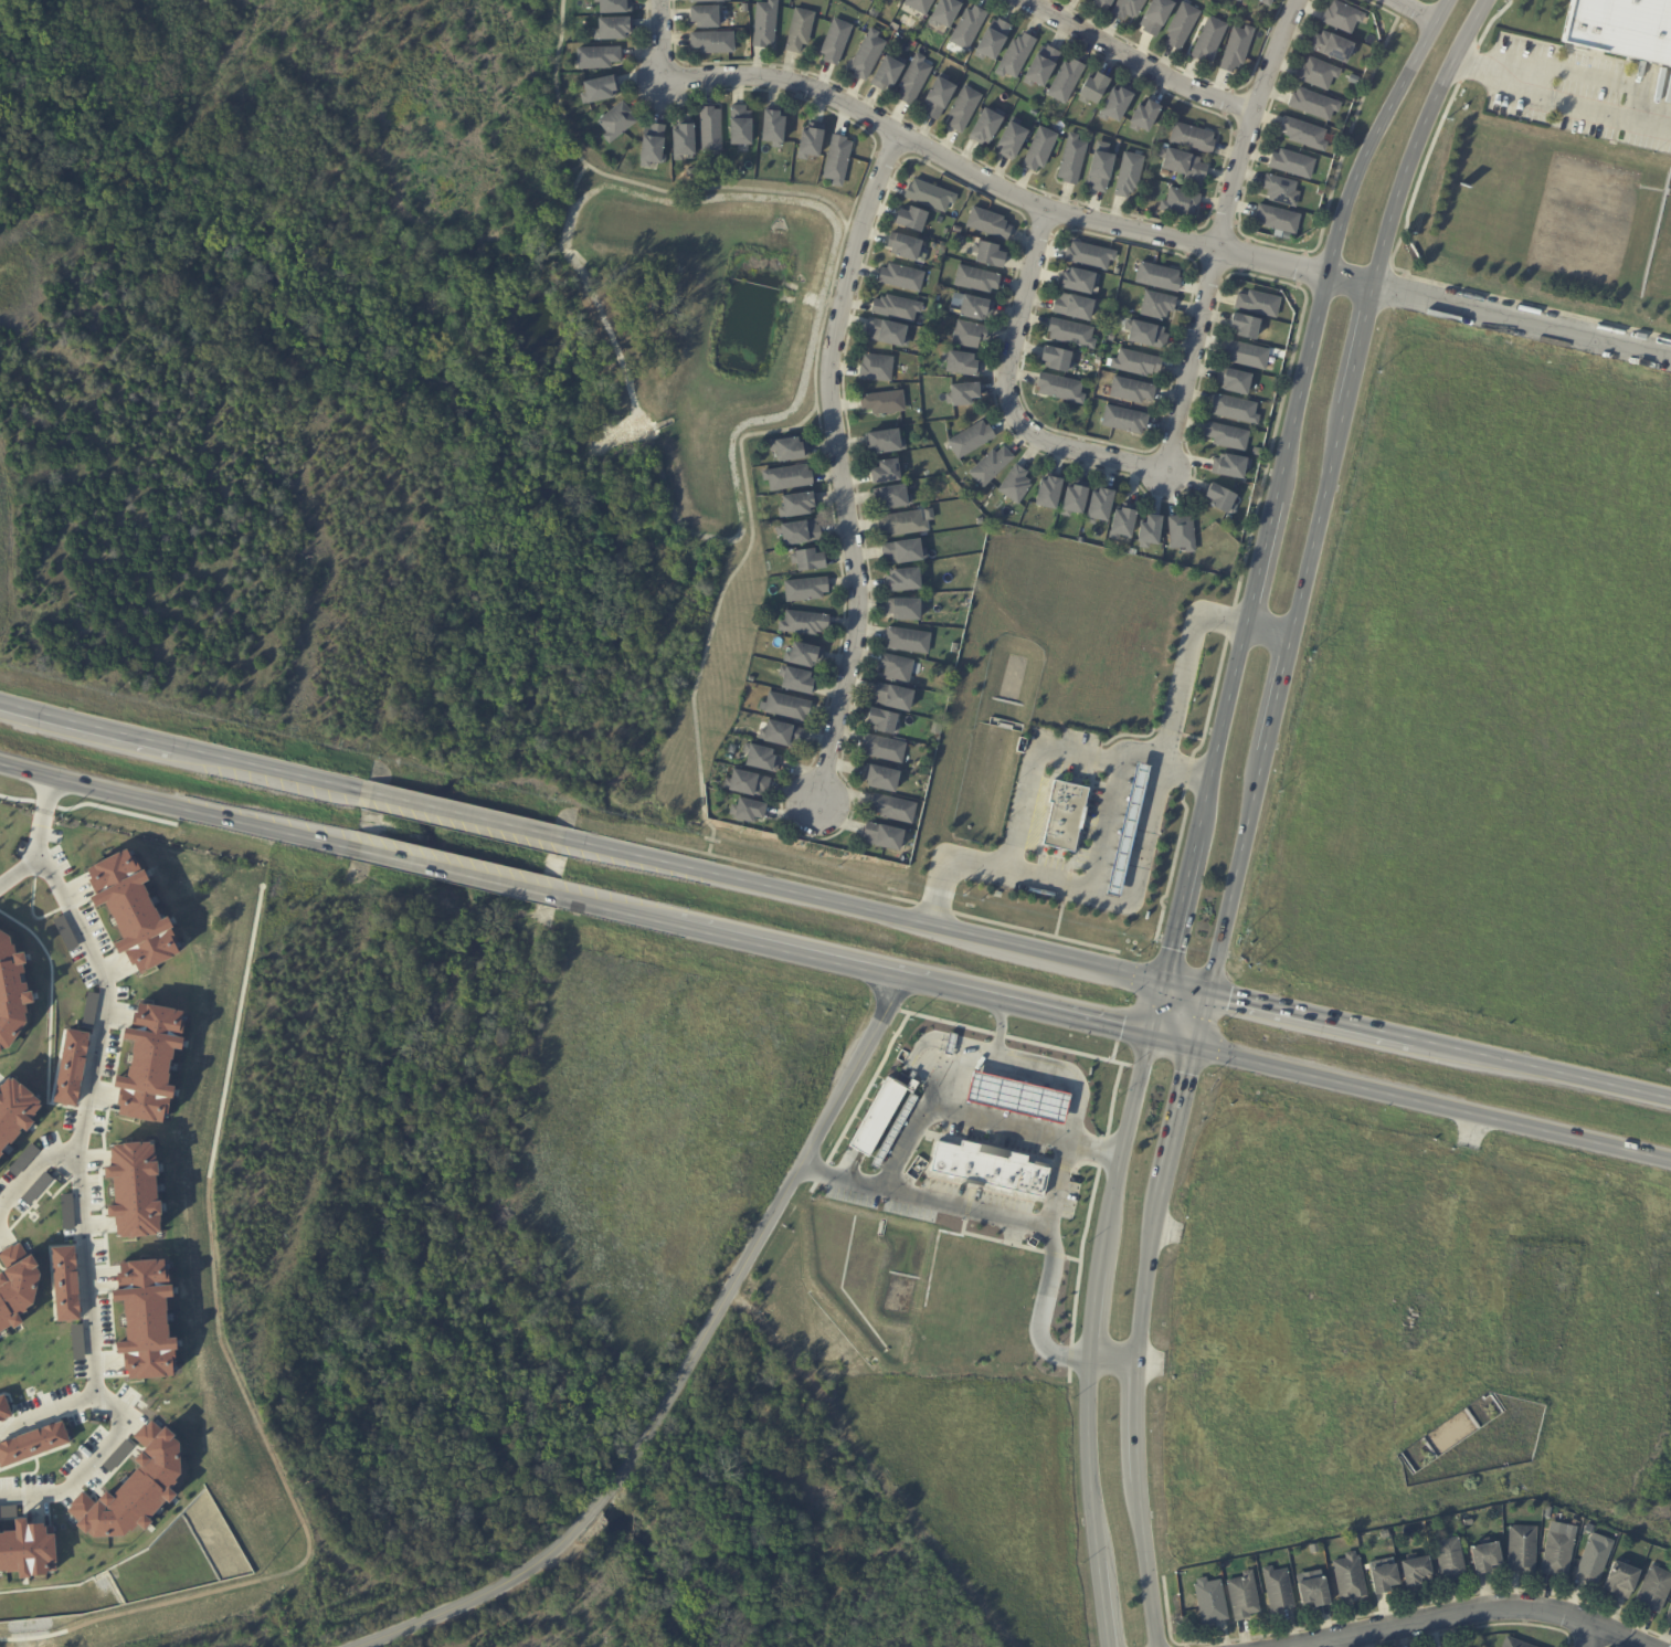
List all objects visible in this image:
building: (867, 0)
building: (706, 1)
building: (1239, 1)
building: (1268, 2)
building: (1246, 3)
road: (1404, 3)
building: (1103, 4)
building: (920, 6)
building: (614, 7)
building: (1128, 9)
road: (1413, 12)
building: (945, 13)
building: (1156, 17)
building: (706, 18)
building: (1343, 18)
building: (1621, 23)
building: (765, 25)
building: (1183, 25)
building: (895, 28)
building: (967, 29)
building: (613, 30)
building: (800, 31)
building: (1209, 41)
building: (836, 42)
building: (993, 42)
building: (712, 43)
building: (1333, 49)
building: (1237, 50)
road: (1145, 55)
building: (867, 56)
building: (1016, 57)
building: (597, 59)
building: (1041, 67)
building: (888, 74)
building: (1319, 75)
road: (743, 76)
building: (913, 81)
building: (1066, 82)
road: (556, 85)
building: (600, 88)
building: (1094, 91)
building: (938, 99)
road: (1558, 102)
building: (1314, 105)
building: (1117, 107)
building: (964, 109)
building: (1145, 119)
building: (616, 120)
building: (1127, 126)
building: (740, 127)
building: (772, 127)
building: (710, 128)
building: (986, 128)
building: (1091, 128)
building: (1304, 135)
building: (683, 139)
building: (1193, 139)
building: (810, 141)
building: (1012, 141)
building: (652, 145)
building: (1040, 150)
building: (837, 159)
building: (1072, 161)
building: (1293, 166)
building: (1184, 167)
building: (1101, 172)
building: (1129, 176)
building: (1281, 192)
building: (1321, 192)
building: (930, 196)
building: (1181, 204)
building: (953, 215)
building: (912, 218)
road: (1103, 219)
road: (565, 220)
building: (1278, 221)
building: (988, 223)
road: (1221, 230)
building: (960, 239)
building: (903, 245)
building: (988, 253)
building: (1089, 257)
building: (1117, 274)
building: (902, 277)
building: (976, 279)
building: (1159, 279)
building: (1078, 283)
building: (1258, 304)
building: (975, 307)
building: (1157, 307)
building: (897, 308)
building: (1075, 309)
road: (1367, 313)
road: (1501, 313)
building: (1245, 326)
building: (888, 331)
building: (970, 335)
building: (1071, 335)
building: (1146, 337)
building: (1111, 338)
building: (1247, 355)
building: (962, 362)
building: (1057, 362)
building: (1136, 365)
building: (877, 368)
building: (1235, 380)
building: (1060, 389)
road: (1006, 391)
building: (1132, 392)
building: (963, 393)
building: (884, 402)
building: (1235, 409)
road: (1295, 409)
building: (1124, 422)
road: (794, 424)
building: (1228, 436)
building: (972, 440)
building: (885, 441)
building: (790, 450)
road: (839, 466)
building: (991, 466)
building: (1231, 466)
building: (886, 472)
building: (789, 477)
building: (1015, 485)
building: (1049, 493)
building: (892, 497)
building: (1221, 498)
building: (1075, 500)
building: (797, 504)
building: (1100, 506)
building: (981, 521)
building: (1123, 521)
building: (902, 524)
building: (1150, 531)
building: (799, 532)
building: (1182, 534)
building: (903, 551)
building: (807, 560)
building: (903, 580)
building: (805, 589)
building: (905, 609)
building: (804, 623)
road: (1268, 634)
building: (908, 641)
building: (954, 648)
building: (804, 656)
building: (897, 668)
building: (751, 679)
building: (797, 682)
road: (1278, 694)
building: (892, 698)
building: (785, 707)
building: (882, 722)
road: (80, 724)
building: (782, 735)
building: (884, 749)
building: (760, 759)
road: (260, 767)
road: (1034, 772)
road: (1111, 777)
building: (881, 779)
building: (747, 784)
road: (171, 809)
building: (893, 809)
building: (747, 812)
building: (1129, 814)
road: (462, 815)
building: (1068, 816)
road: (46, 820)
building: (1131, 831)
gas station: (1131, 831)
building: (884, 837)
road: (1136, 863)
road: (18, 870)
road: (447, 872)
road: (1237, 872)
building: (1112, 888)
building: (134, 910)
road: (611, 910)
road: (865, 911)
road: (1180, 911)
road: (910, 981)
traffic signals: (1163, 984)
road: (1185, 989)
building: (12, 991)
traffic signals: (1208, 994)
road: (1156, 1012)
road: (1311, 1017)
road: (1201, 1022)
traffic signals: (1150, 1039)
road: (1172, 1044)
traffic signals: (1194, 1049)
building: (151, 1063)
building: (72, 1067)
road: (1068, 1069)
road: (1542, 1071)
building: (1022, 1097)
gas station: (1022, 1097)
road: (1432, 1105)
building: (15, 1111)
road: (84, 1117)
building: (878, 1117)
road: (927, 1120)
road: (1177, 1121)
road: (1037, 1129)
building: (988, 1165)
road: (28, 1174)
road: (1058, 1181)
building: (136, 1189)
road: (1047, 1226)
building: (65, 1284)
building: (18, 1291)
building: (148, 1318)
road: (1091, 1340)
road: (1113, 1356)
road: (681, 1371)
road: (241, 1384)
building: (4, 1408)
road: (46, 1414)
road: (1135, 1419)
building: (33, 1443)
road: (91, 1466)
building: (135, 1488)
building: (1550, 1510)
building: (1468, 1522)
building: (1609, 1531)
building: (1385, 1534)
building: (29, 1549)
building: (1523, 1550)
building: (1653, 1551)
building: (1559, 1554)
building: (1451, 1559)
building: (1487, 1559)
building: (1595, 1560)
building: (1417, 1572)
building: (1350, 1579)
building: (1385, 1579)
building: (1622, 1580)
building: (1279, 1591)
building: (1656, 1591)
building: (1315, 1592)
building: (1244, 1596)
building: (1212, 1602)
building: (1670, 1616)
road: (1457, 1618)
road: (1593, 1640)
building: (1516, 1643)

